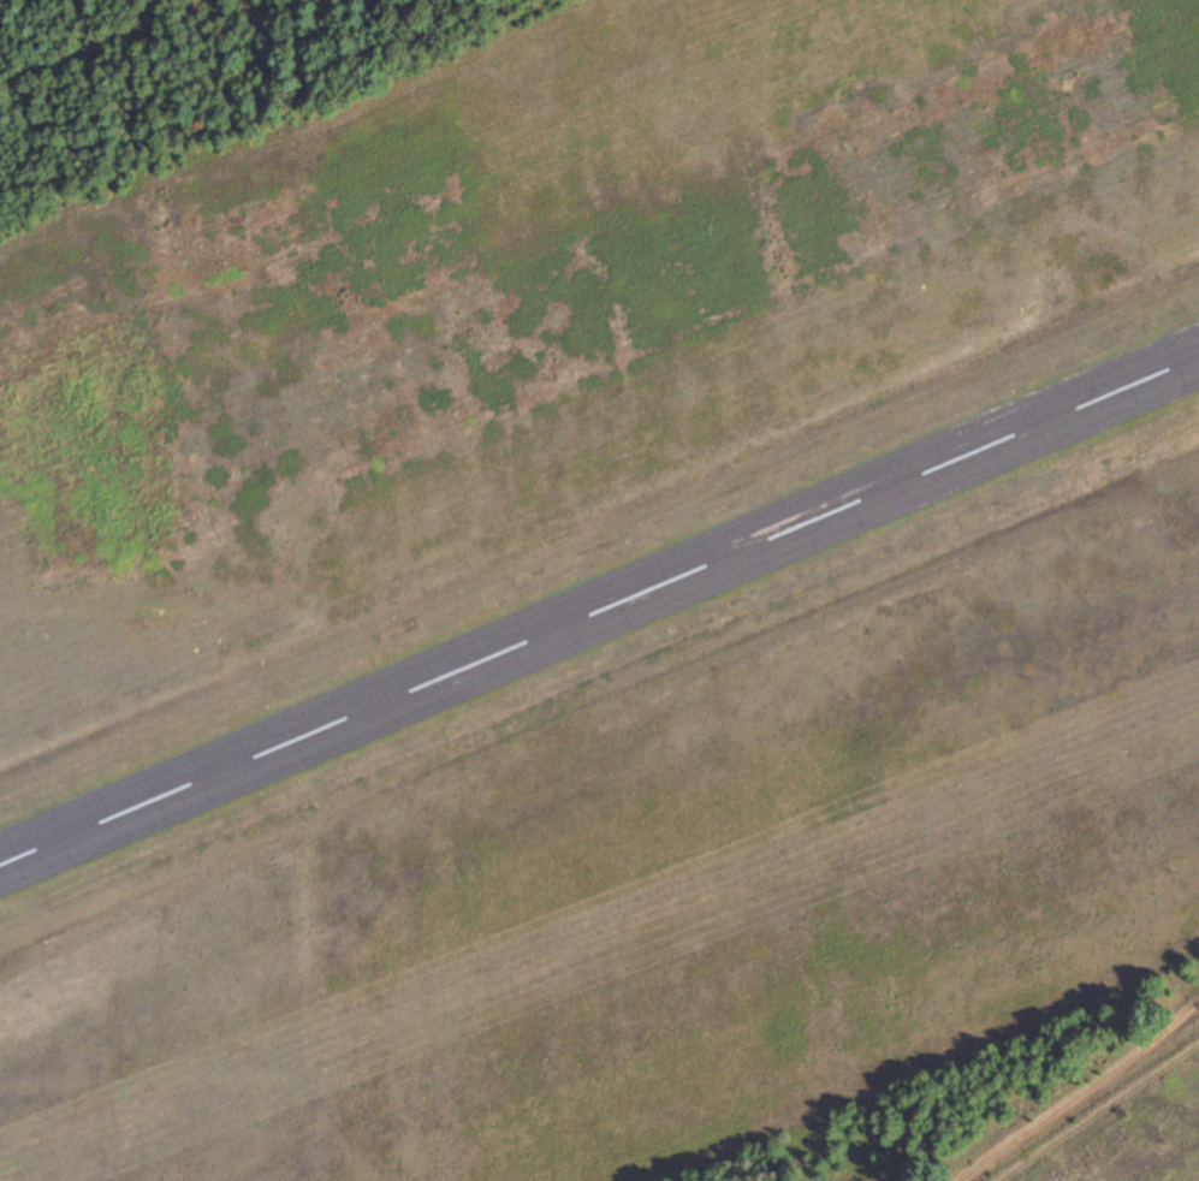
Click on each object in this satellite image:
building: (1063, 404)
building: (830, 523)
building: (777, 536)
airport: (596, 587)
airport runway: (599, 610)
building: (575, 622)
building: (241, 772)

